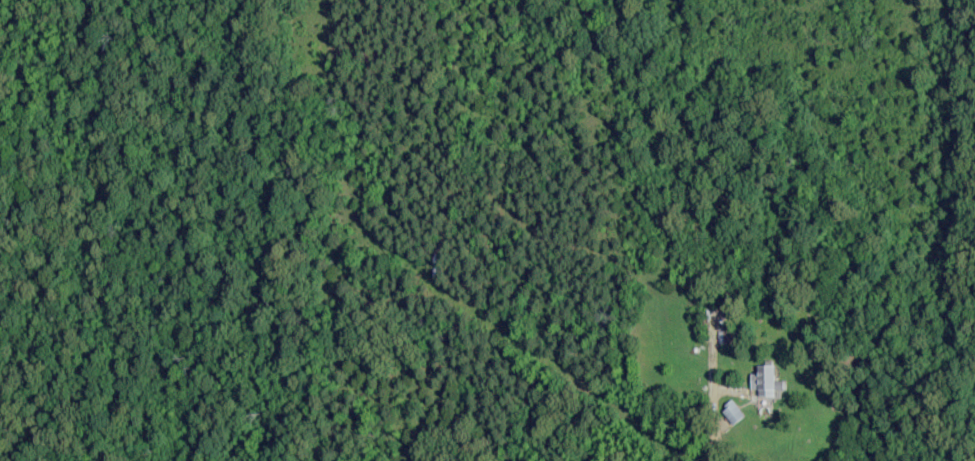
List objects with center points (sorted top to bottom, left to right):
building: (764, 382)
building: (731, 414)

